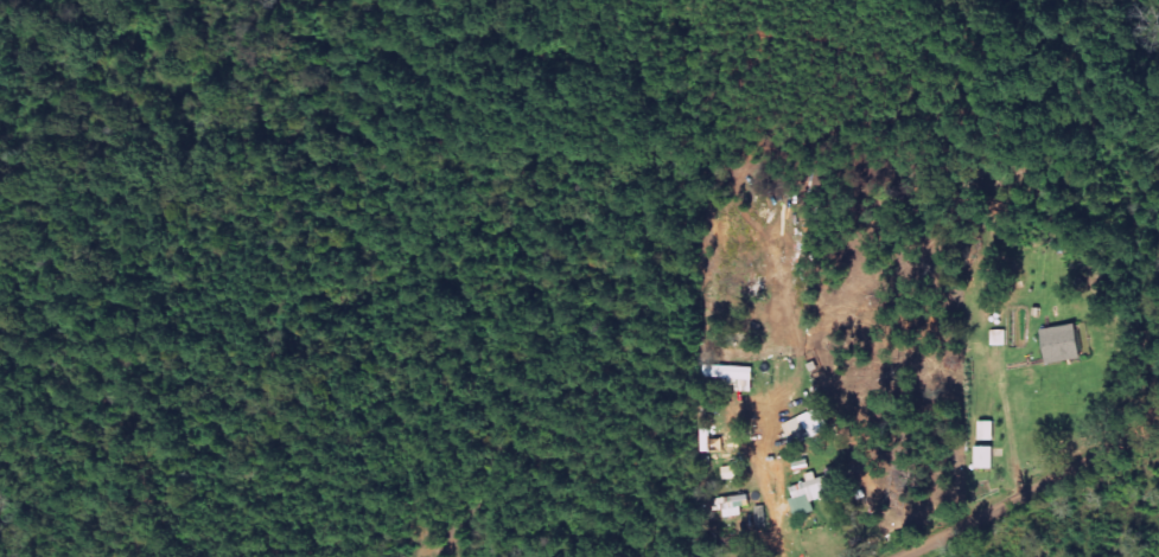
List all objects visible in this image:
building: (1063, 345)
road: (781, 359)
building: (731, 376)
building: (807, 427)
building: (986, 431)
road: (1030, 489)
building: (813, 494)

